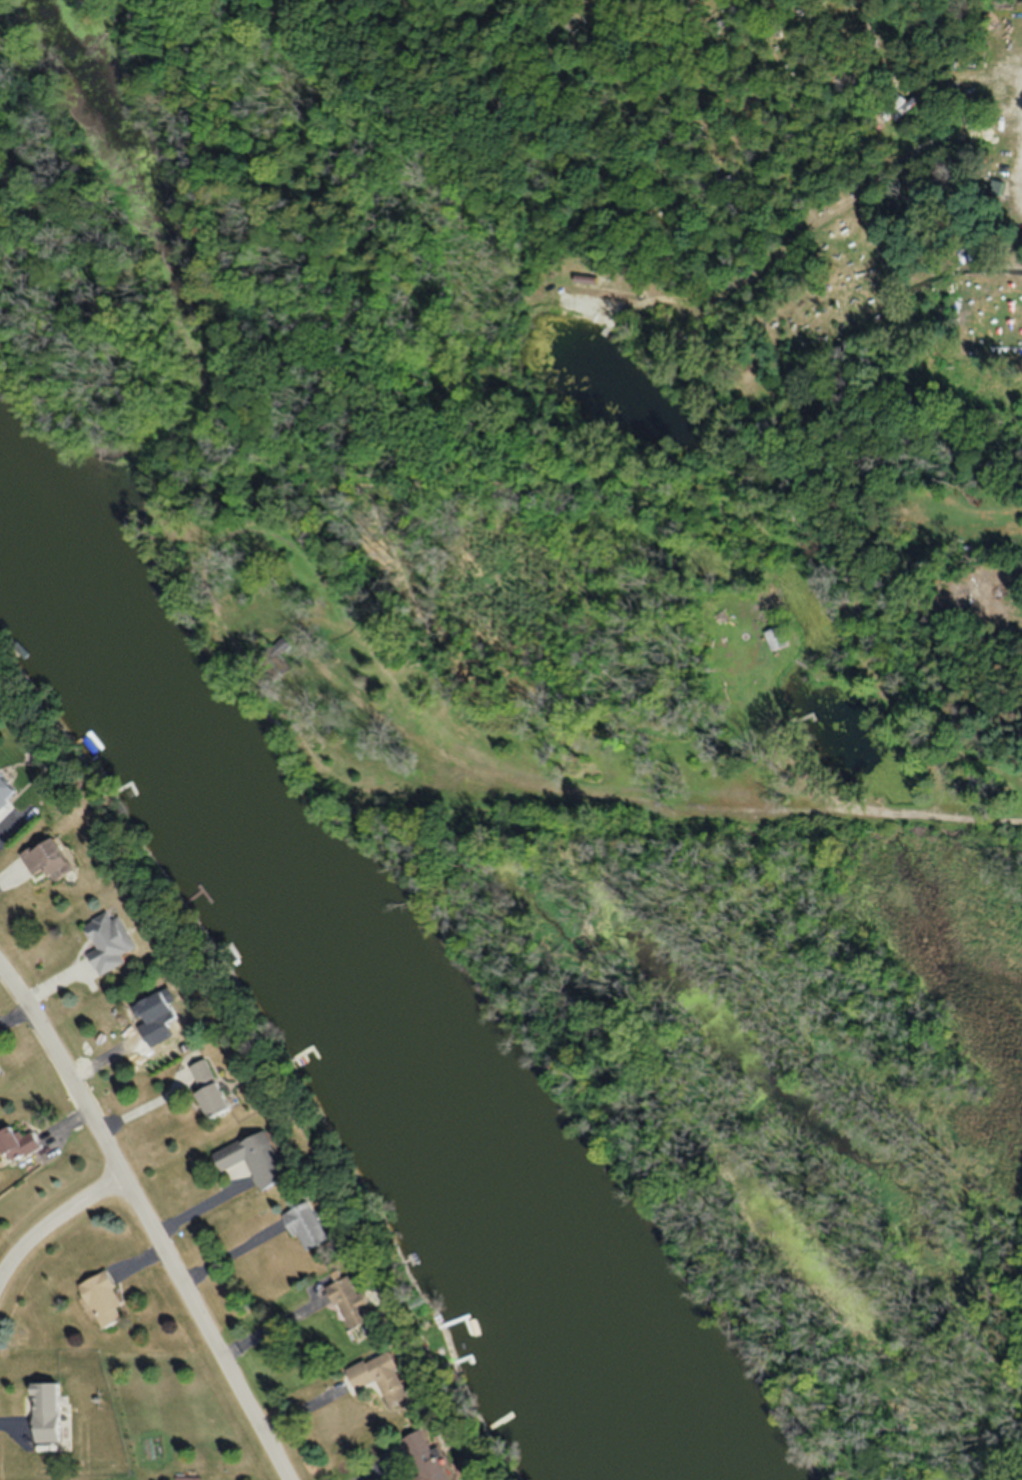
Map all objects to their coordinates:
building: (5, 792)
building: (48, 860)
building: (109, 943)
river: (347, 989)
building: (159, 1018)
building: (0, 1073)
building: (209, 1089)
building: (16, 1145)
building: (255, 1161)
road: (146, 1226)
road: (54, 1227)
building: (307, 1228)
building: (102, 1298)
building: (351, 1306)
building: (382, 1379)
building: (46, 1412)
building: (426, 1458)

